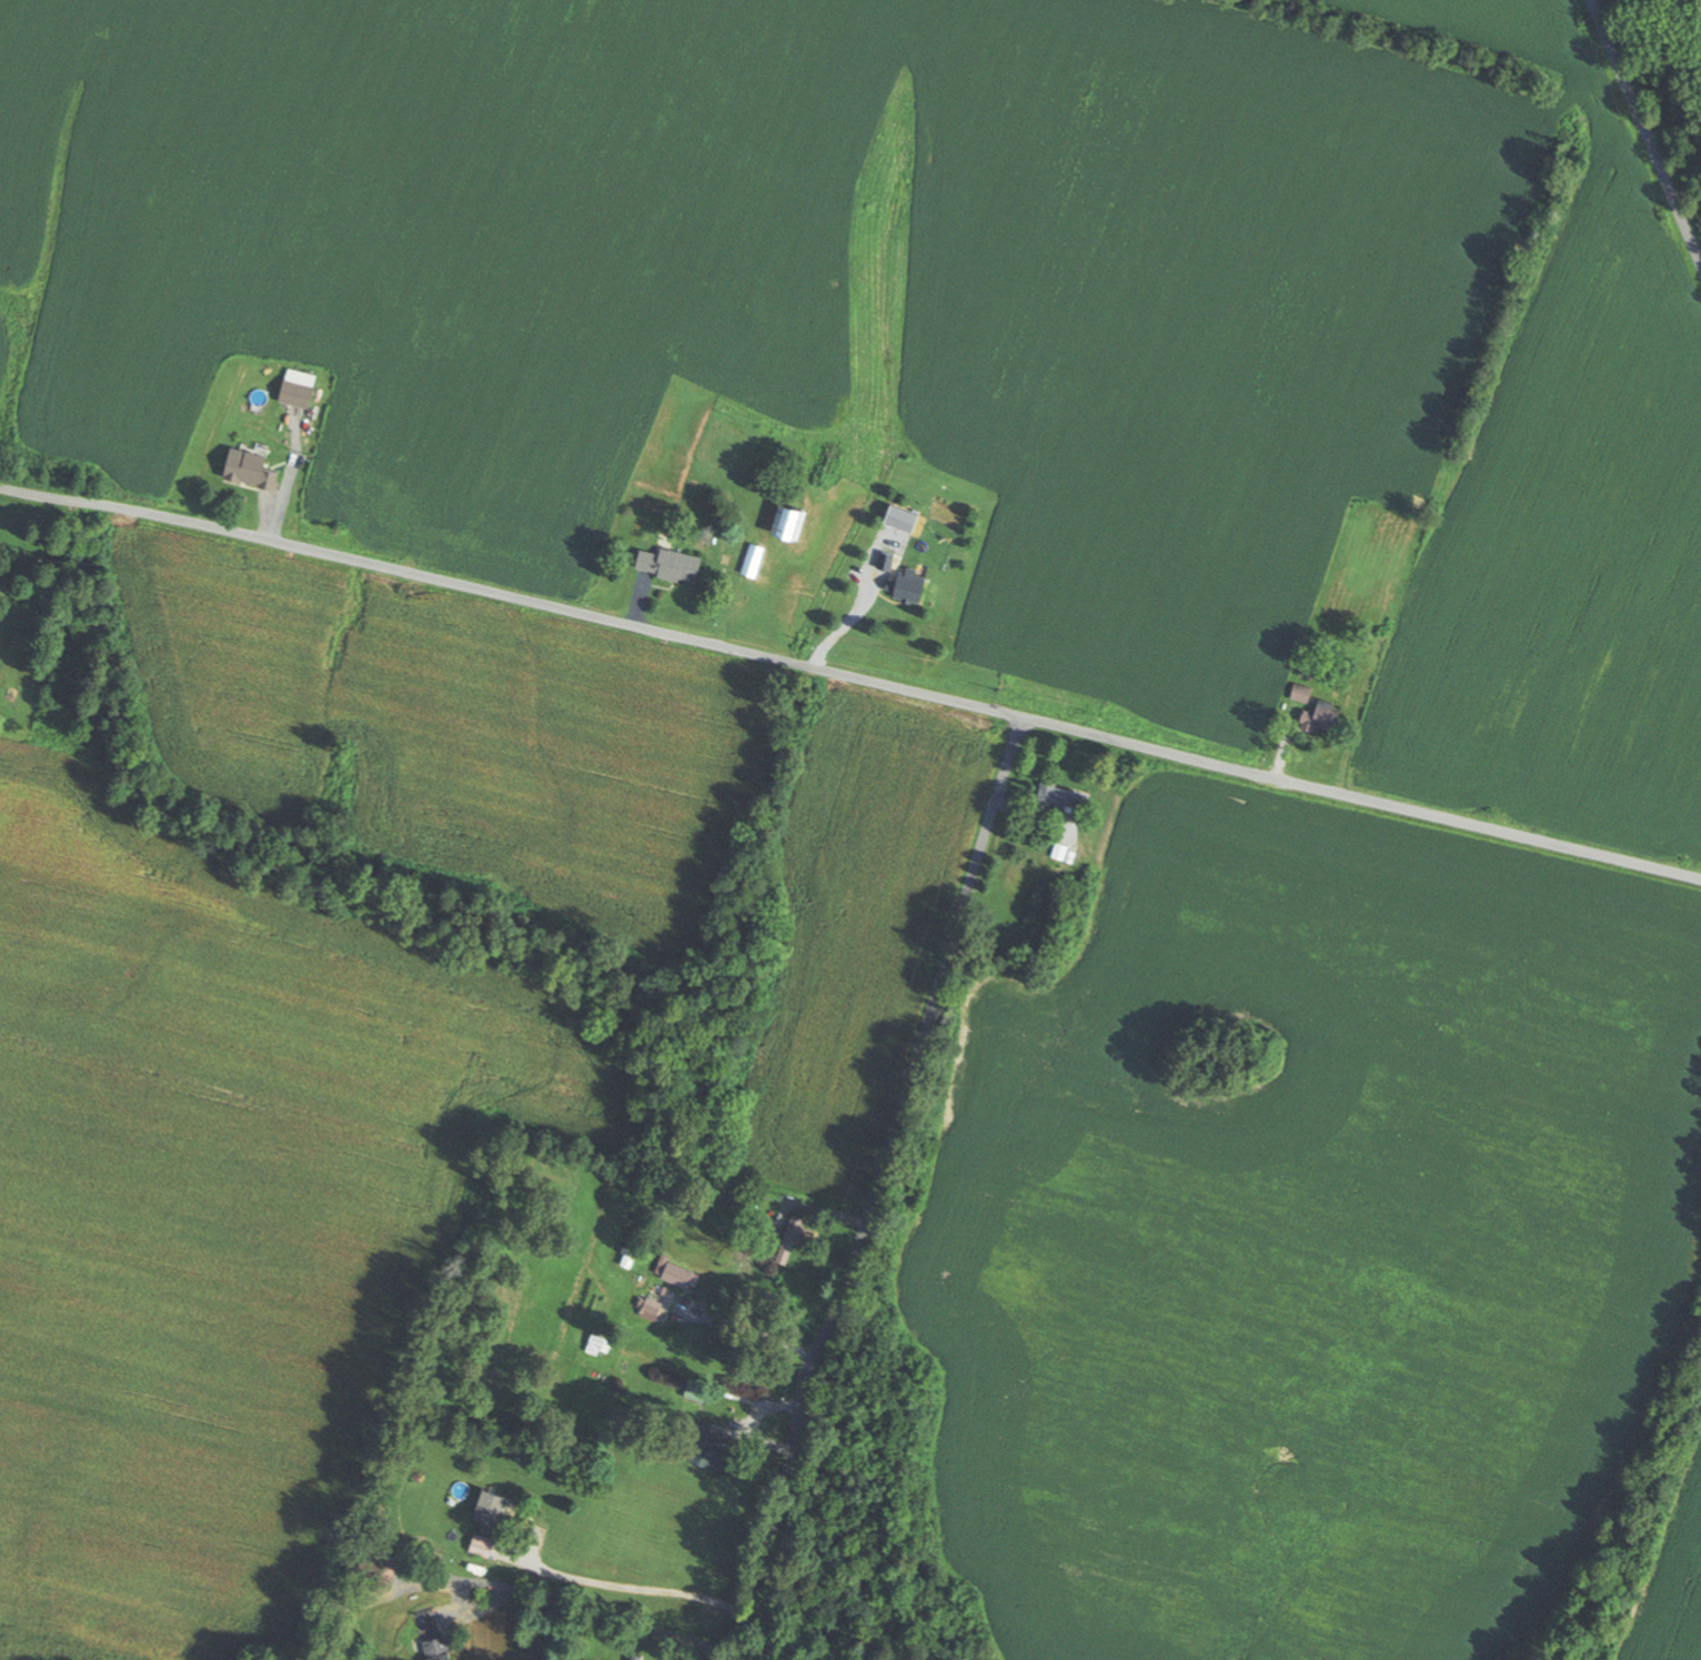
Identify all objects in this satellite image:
road: (1647, 127)
building: (299, 389)
building: (252, 470)
building: (823, 480)
building: (792, 521)
building: (887, 559)
building: (755, 560)
building: (673, 565)
building: (912, 586)
road: (852, 677)
building: (1316, 711)
building: (1065, 796)
building: (1060, 852)
road: (879, 1189)
building: (791, 1239)
building: (633, 1248)
building: (677, 1272)
building: (601, 1300)
building: (653, 1308)
building: (600, 1342)
building: (698, 1390)
building: (712, 1448)
building: (493, 1505)
building: (434, 1634)

